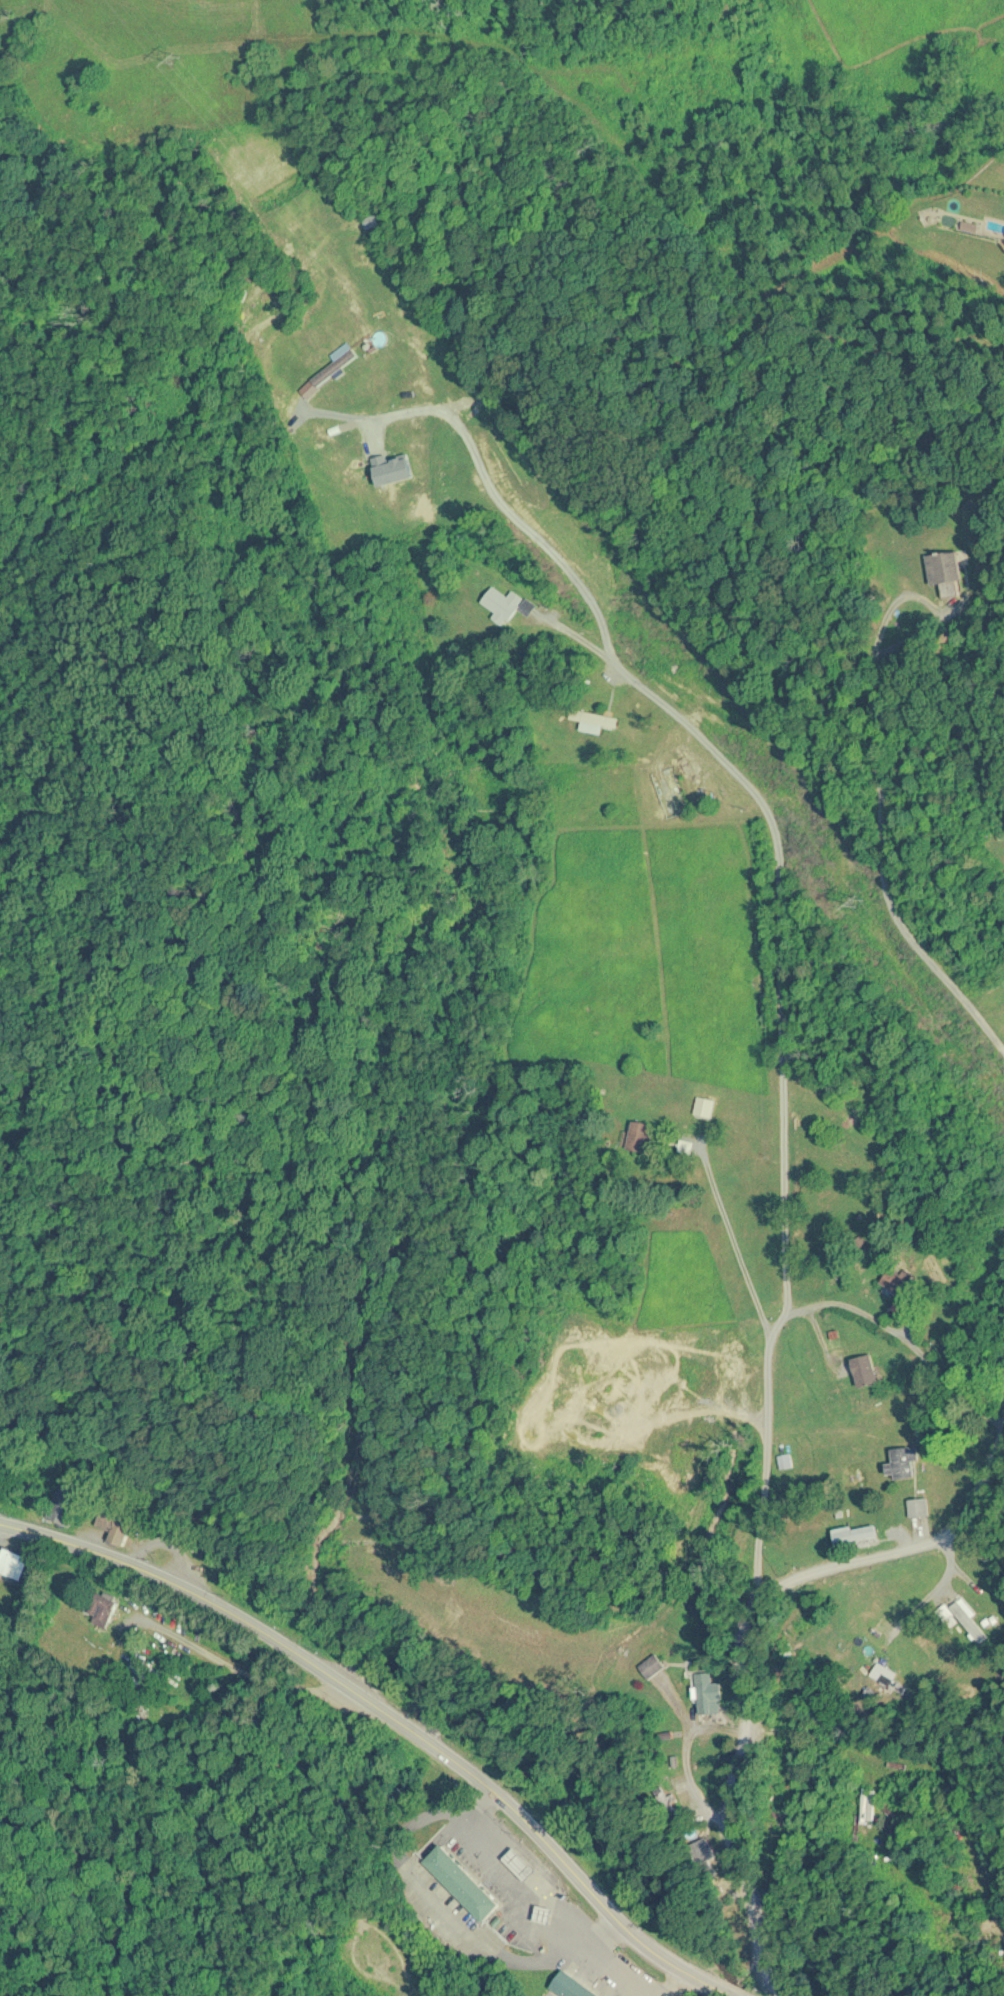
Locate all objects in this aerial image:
power tower: (175, 62)
building: (944, 572)
building: (504, 605)
building: (592, 722)
power tower: (860, 907)
road: (783, 1064)
building: (703, 1107)
building: (639, 1137)
building: (685, 1146)
building: (893, 1282)
road: (903, 1339)
building: (863, 1371)
building: (785, 1461)
building: (901, 1463)
building: (918, 1508)
building: (114, 1526)
building: (857, 1536)
building: (12, 1565)
building: (965, 1619)
road: (752, 1646)
road: (249, 1679)
building: (707, 1694)
road: (394, 1718)
road: (688, 1767)
building: (664, 1803)
building: (867, 1805)
building: (702, 1856)
building: (460, 1884)
building: (569, 1986)

